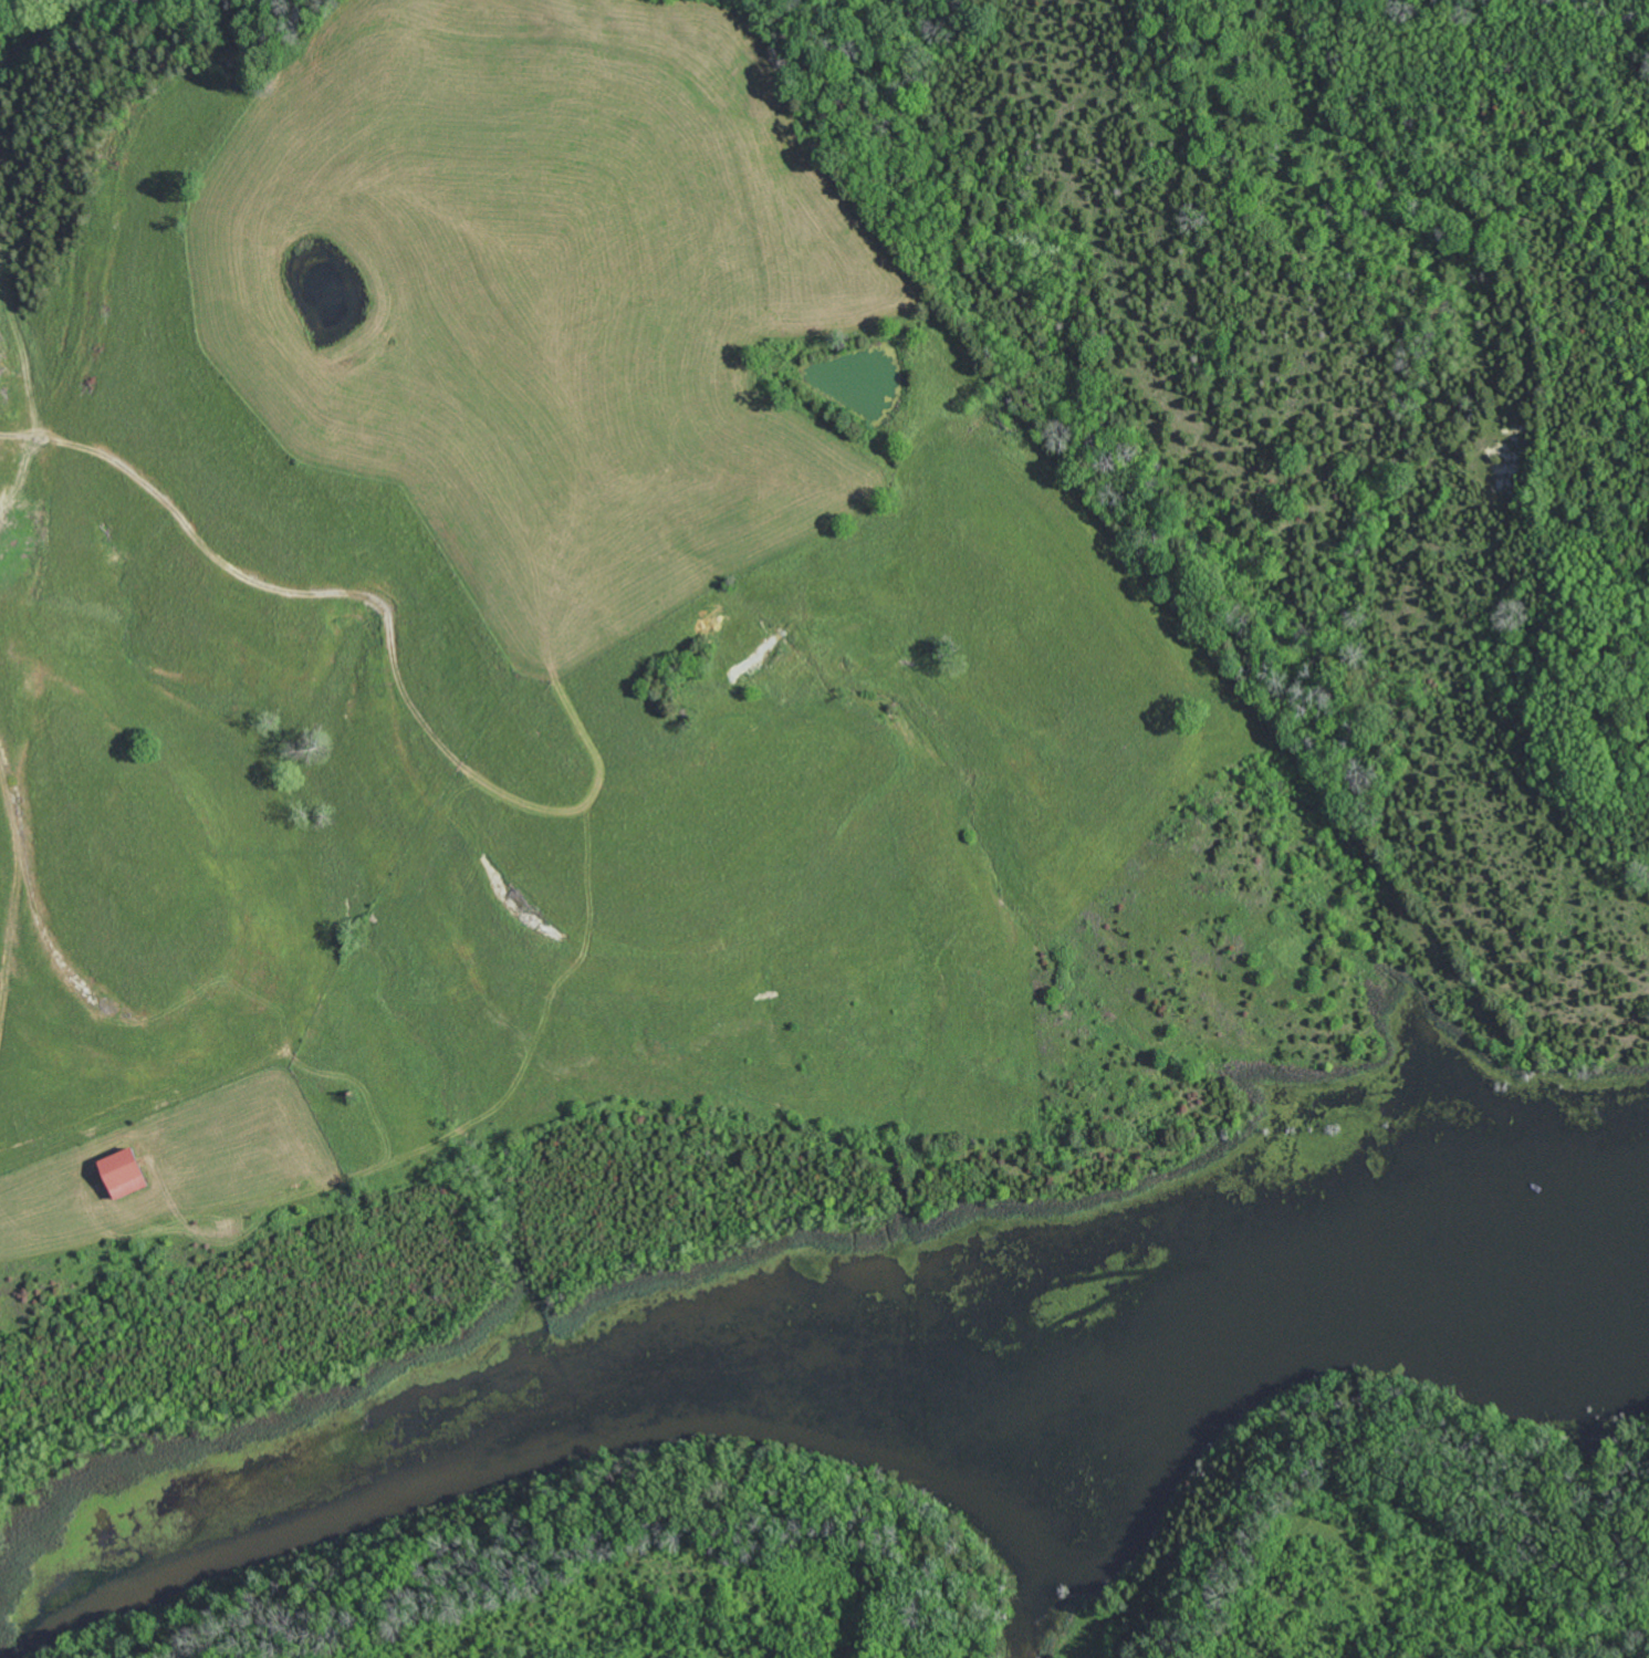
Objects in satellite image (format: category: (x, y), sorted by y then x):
building: (131, 1174)

